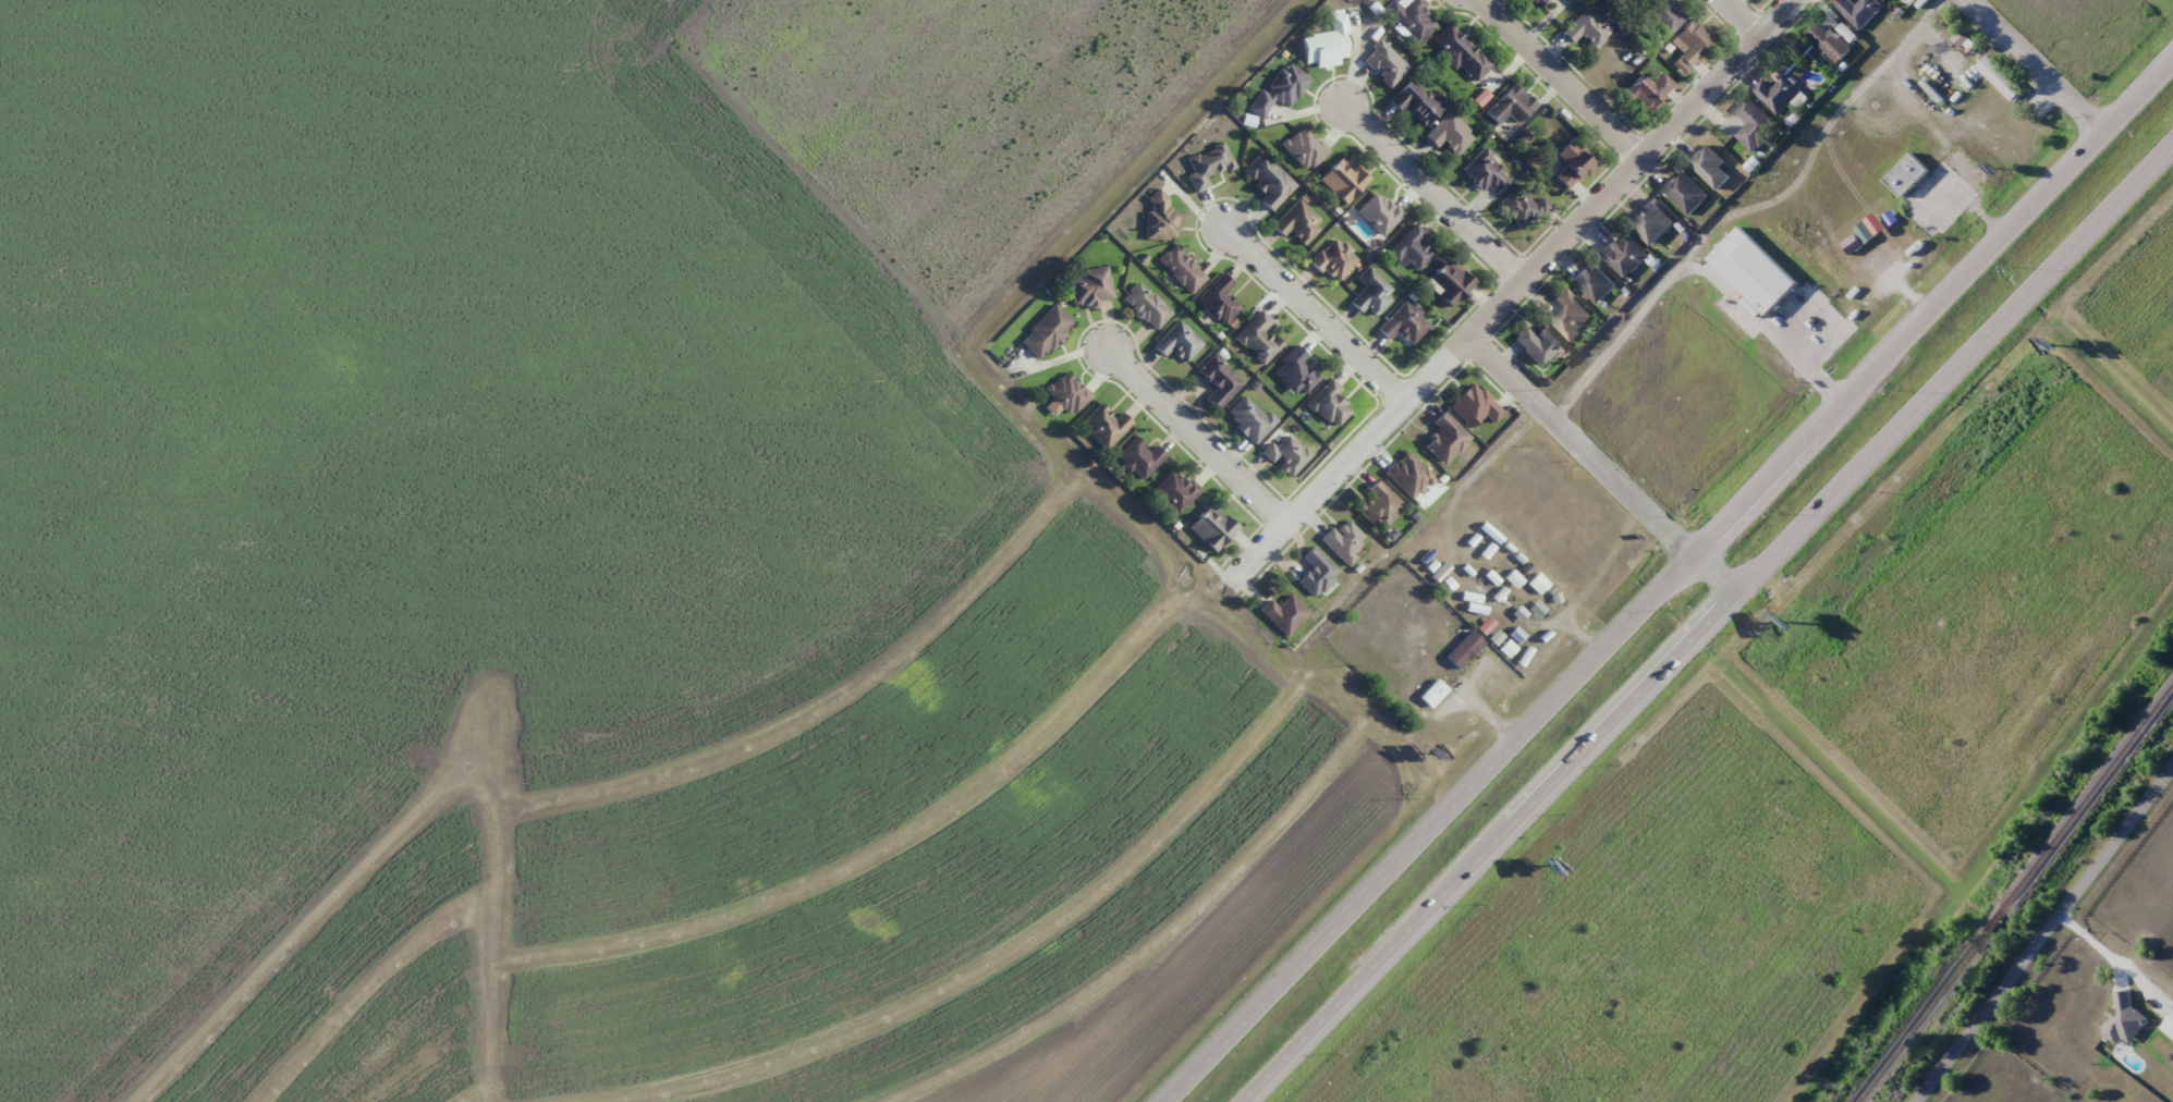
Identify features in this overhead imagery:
building: (1877, 0)
building: (1538, 2)
building: (1632, 2)
building: (1859, 11)
building: (1667, 15)
road: (1743, 17)
building: (1412, 19)
building: (1587, 28)
building: (1327, 42)
building: (1831, 42)
building: (1690, 44)
building: (1462, 53)
road: (2032, 66)
road: (1562, 78)
building: (2002, 81)
building: (1280, 90)
building: (1647, 90)
building: (1779, 94)
building: (1415, 102)
building: (1511, 106)
building: (1755, 125)
building: (1450, 134)
building: (1305, 148)
building: (1573, 164)
building: (1208, 166)
building: (1709, 166)
building: (1486, 173)
building: (1910, 177)
building: (1343, 180)
building: (1268, 181)
building: (1950, 182)
road: (1433, 191)
building: (1684, 193)
building: (1525, 209)
building: (1379, 212)
building: (1161, 218)
building: (1298, 222)
building: (1651, 222)
building: (1412, 248)
building: (1624, 256)
building: (1334, 259)
building: (1179, 266)
building: (1758, 272)
building: (1450, 282)
building: (1594, 282)
building: (1091, 285)
road: (1513, 292)
building: (1371, 293)
building: (1218, 298)
building: (1146, 306)
road: (1931, 308)
road: (1315, 311)
building: (1570, 315)
building: (1405, 323)
building: (1047, 332)
building: (1258, 336)
building: (1179, 342)
building: (1538, 344)
road: (1952, 367)
building: (1295, 372)
building: (1219, 381)
building: (1067, 393)
building: (1329, 404)
building: (1475, 406)
building: (1249, 418)
building: (1104, 426)
road: (1194, 436)
building: (1445, 440)
building: (1286, 454)
building: (1140, 457)
road: (1599, 466)
building: (1408, 475)
building: (1174, 490)
building: (1380, 506)
building: (1212, 528)
building: (1344, 541)
crop: (600, 566)
building: (1317, 572)
building: (1538, 583)
building: (1284, 613)
building: (1500, 622)
building: (1530, 625)
building: (1464, 649)
road: (1428, 830)
road: (1485, 847)
railway: (2013, 894)
road: (2043, 932)

